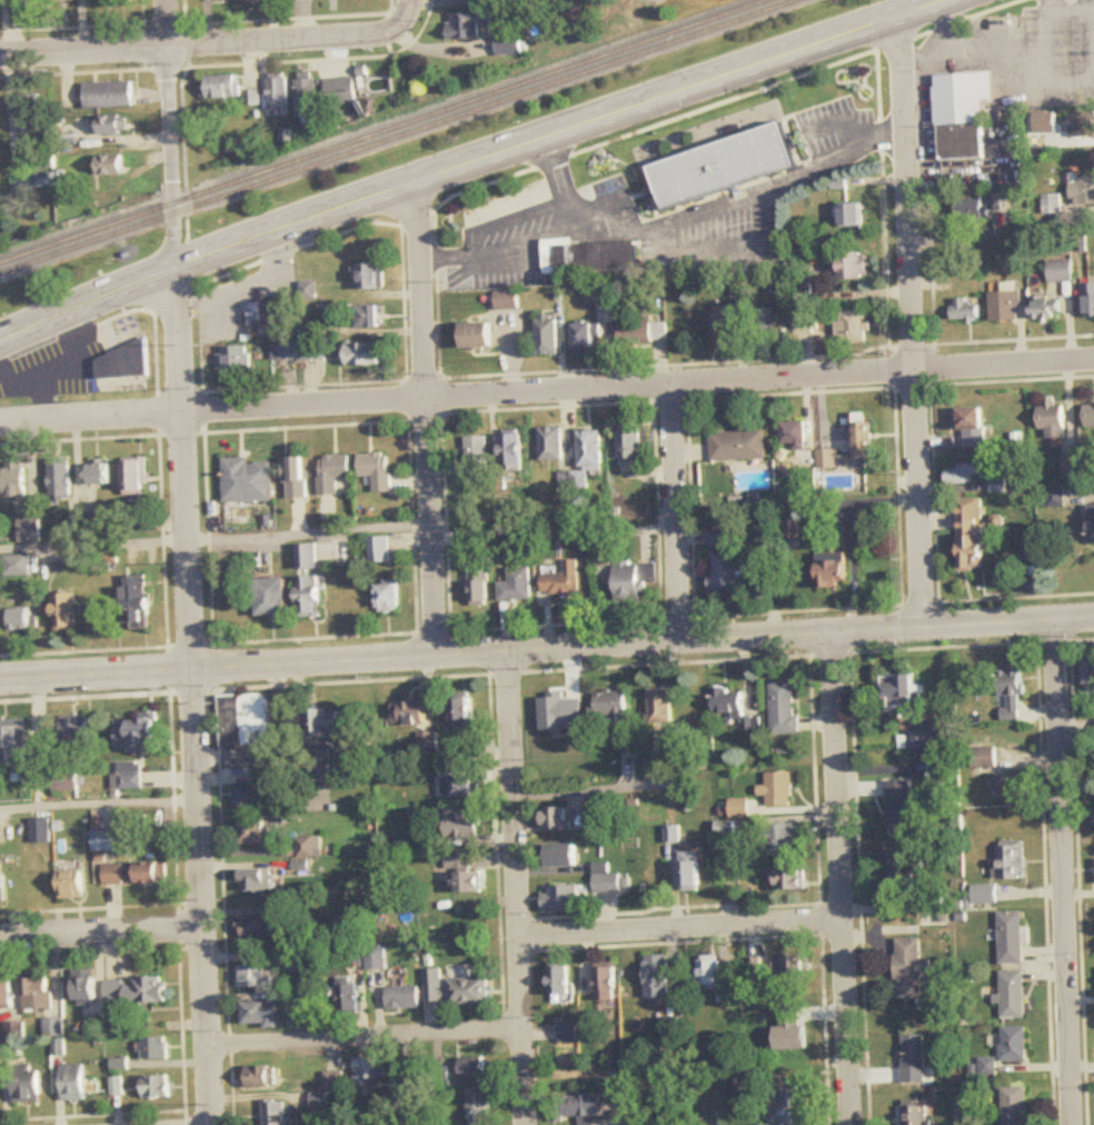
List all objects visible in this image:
building: (63, 0)
building: (119, 3)
road: (1068, 12)
road: (405, 13)
road: (167, 23)
building: (467, 26)
road: (947, 29)
road: (1044, 42)
road: (199, 46)
building: (508, 46)
road: (979, 56)
building: (220, 87)
building: (340, 91)
building: (277, 92)
building: (108, 96)
building: (250, 98)
building: (307, 99)
building: (29, 115)
building: (961, 116)
building: (1083, 126)
building: (110, 127)
railway: (384, 131)
railway: (399, 137)
road: (170, 157)
road: (470, 163)
building: (110, 166)
building: (725, 167)
building: (44, 179)
road: (558, 187)
building: (1082, 190)
building: (971, 209)
building: (851, 216)
road: (674, 228)
building: (596, 258)
building: (853, 266)
building: (1061, 271)
building: (368, 276)
building: (308, 290)
building: (802, 292)
building: (509, 300)
building: (1090, 300)
building: (1005, 307)
building: (1046, 310)
building: (965, 311)
building: (268, 316)
building: (369, 317)
road: (914, 321)
building: (763, 322)
building: (803, 325)
building: (723, 327)
building: (853, 327)
building: (644, 333)
building: (479, 336)
building: (549, 336)
building: (586, 340)
building: (319, 351)
building: (285, 352)
building: (366, 355)
building: (233, 361)
building: (123, 362)
building: (51, 374)
road: (547, 392)
road: (429, 417)
building: (1090, 417)
building: (1054, 421)
building: (972, 426)
building: (793, 436)
building: (862, 440)
building: (553, 445)
building: (629, 446)
building: (736, 446)
building: (590, 450)
building: (513, 452)
building: (478, 455)
building: (1071, 465)
building: (377, 470)
building: (334, 472)
building: (99, 475)
building: (959, 475)
building: (135, 477)
building: (60, 478)
building: (296, 478)
building: (16, 479)
building: (247, 481)
building: (1055, 499)
road: (676, 515)
building: (1093, 524)
building: (30, 529)
building: (973, 535)
road: (217, 538)
building: (718, 538)
building: (379, 549)
building: (307, 557)
building: (18, 565)
building: (0, 567)
building: (725, 571)
building: (834, 574)
building: (563, 580)
building: (633, 581)
building: (518, 585)
building: (478, 588)
building: (310, 597)
building: (389, 597)
building: (273, 598)
building: (139, 601)
building: (66, 613)
building: (22, 619)
road: (547, 649)
building: (1090, 675)
building: (901, 695)
building: (1012, 695)
road: (195, 696)
building: (728, 701)
building: (613, 706)
building: (662, 706)
building: (785, 708)
building: (465, 711)
building: (412, 714)
building: (245, 720)
building: (322, 724)
building: (77, 731)
building: (137, 735)
building: (923, 739)
building: (428, 740)
building: (20, 751)
building: (320, 761)
building: (128, 775)
building: (66, 780)
building: (1012, 785)
building: (461, 787)
building: (778, 790)
building: (253, 799)
road: (99, 803)
building: (899, 805)
building: (555, 818)
building: (464, 826)
building: (41, 830)
building: (253, 834)
building: (782, 839)
building: (106, 840)
building: (310, 847)
building: (564, 856)
building: (1010, 859)
building: (459, 860)
road: (1064, 872)
building: (137, 874)
building: (903, 875)
building: (693, 876)
building: (607, 878)
building: (789, 878)
road: (838, 879)
building: (258, 880)
building: (468, 883)
building: (2, 884)
building: (73, 885)
road: (517, 887)
building: (984, 895)
building: (561, 898)
building: (258, 927)
road: (679, 927)
road: (101, 936)
building: (1012, 937)
building: (377, 958)
building: (911, 964)
building: (792, 966)
building: (756, 967)
building: (257, 976)
building: (658, 976)
building: (560, 980)
building: (718, 982)
building: (608, 983)
building: (435, 986)
building: (87, 989)
building: (470, 990)
building: (137, 992)
building: (37, 993)
building: (7, 994)
building: (1013, 994)
building: (404, 998)
building: (348, 999)
building: (261, 1013)
building: (669, 1026)
building: (569, 1033)
road: (367, 1038)
building: (1014, 1044)
building: (156, 1048)
building: (913, 1058)
building: (474, 1067)
building: (370, 1071)
building: (261, 1076)
building: (74, 1082)
building: (28, 1087)
building: (157, 1087)
building: (479, 1106)
building: (1014, 1106)
building: (578, 1107)
building: (795, 1109)
building: (275, 1113)
building: (916, 1115)

